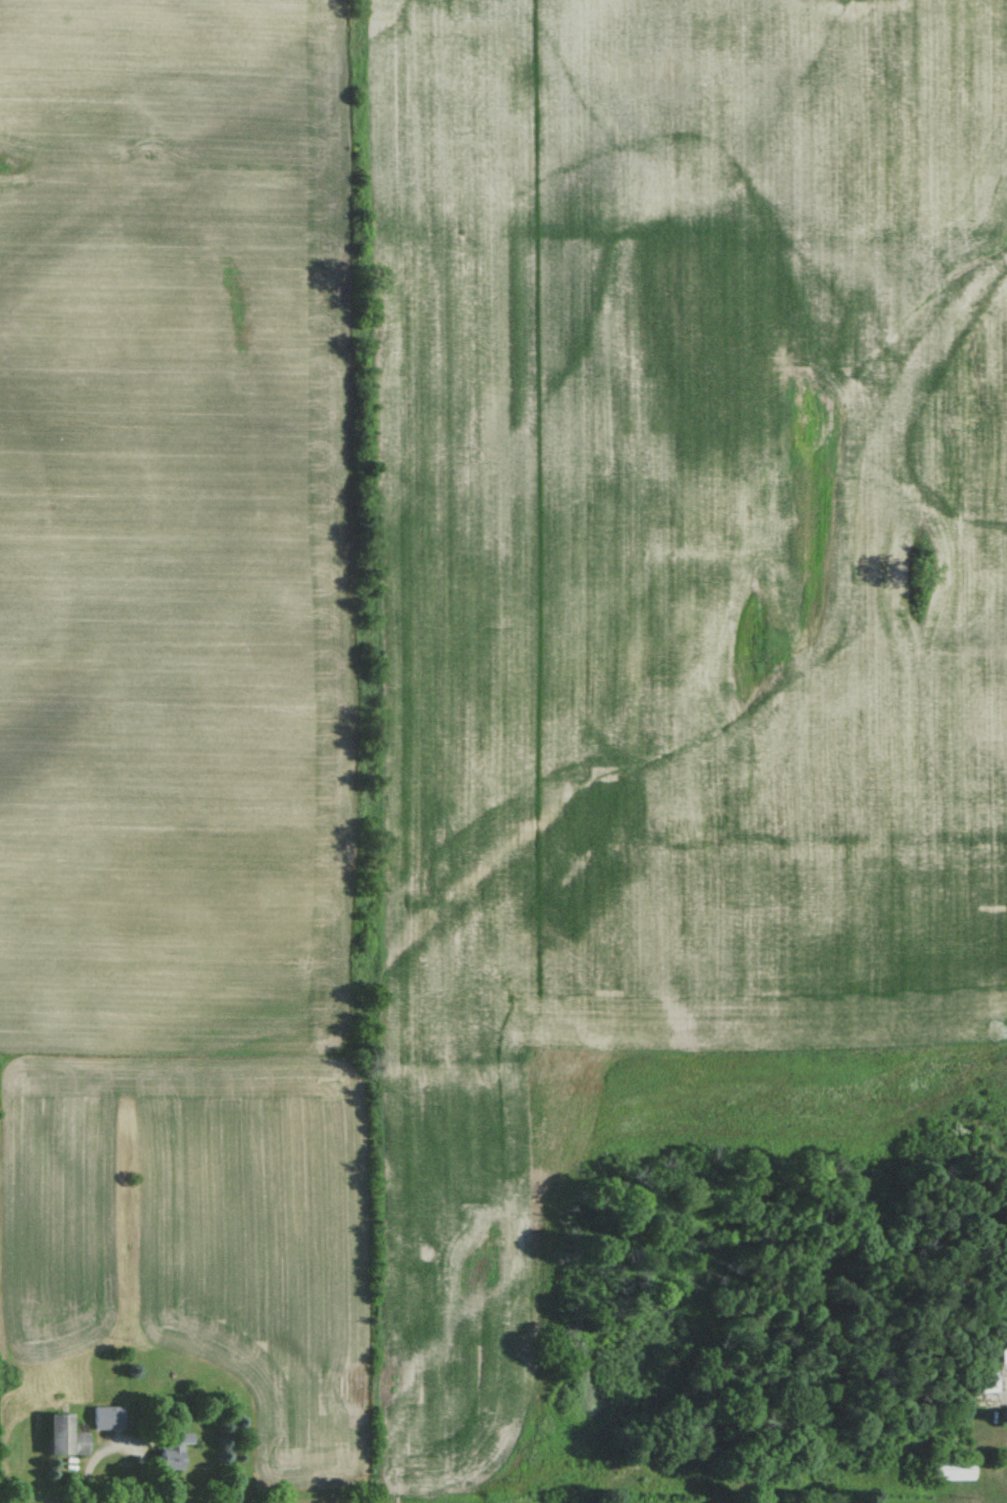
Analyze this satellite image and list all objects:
building: (1004, 1347)
building: (986, 1382)
building: (105, 1416)
building: (65, 1434)
building: (173, 1448)
building: (955, 1468)

